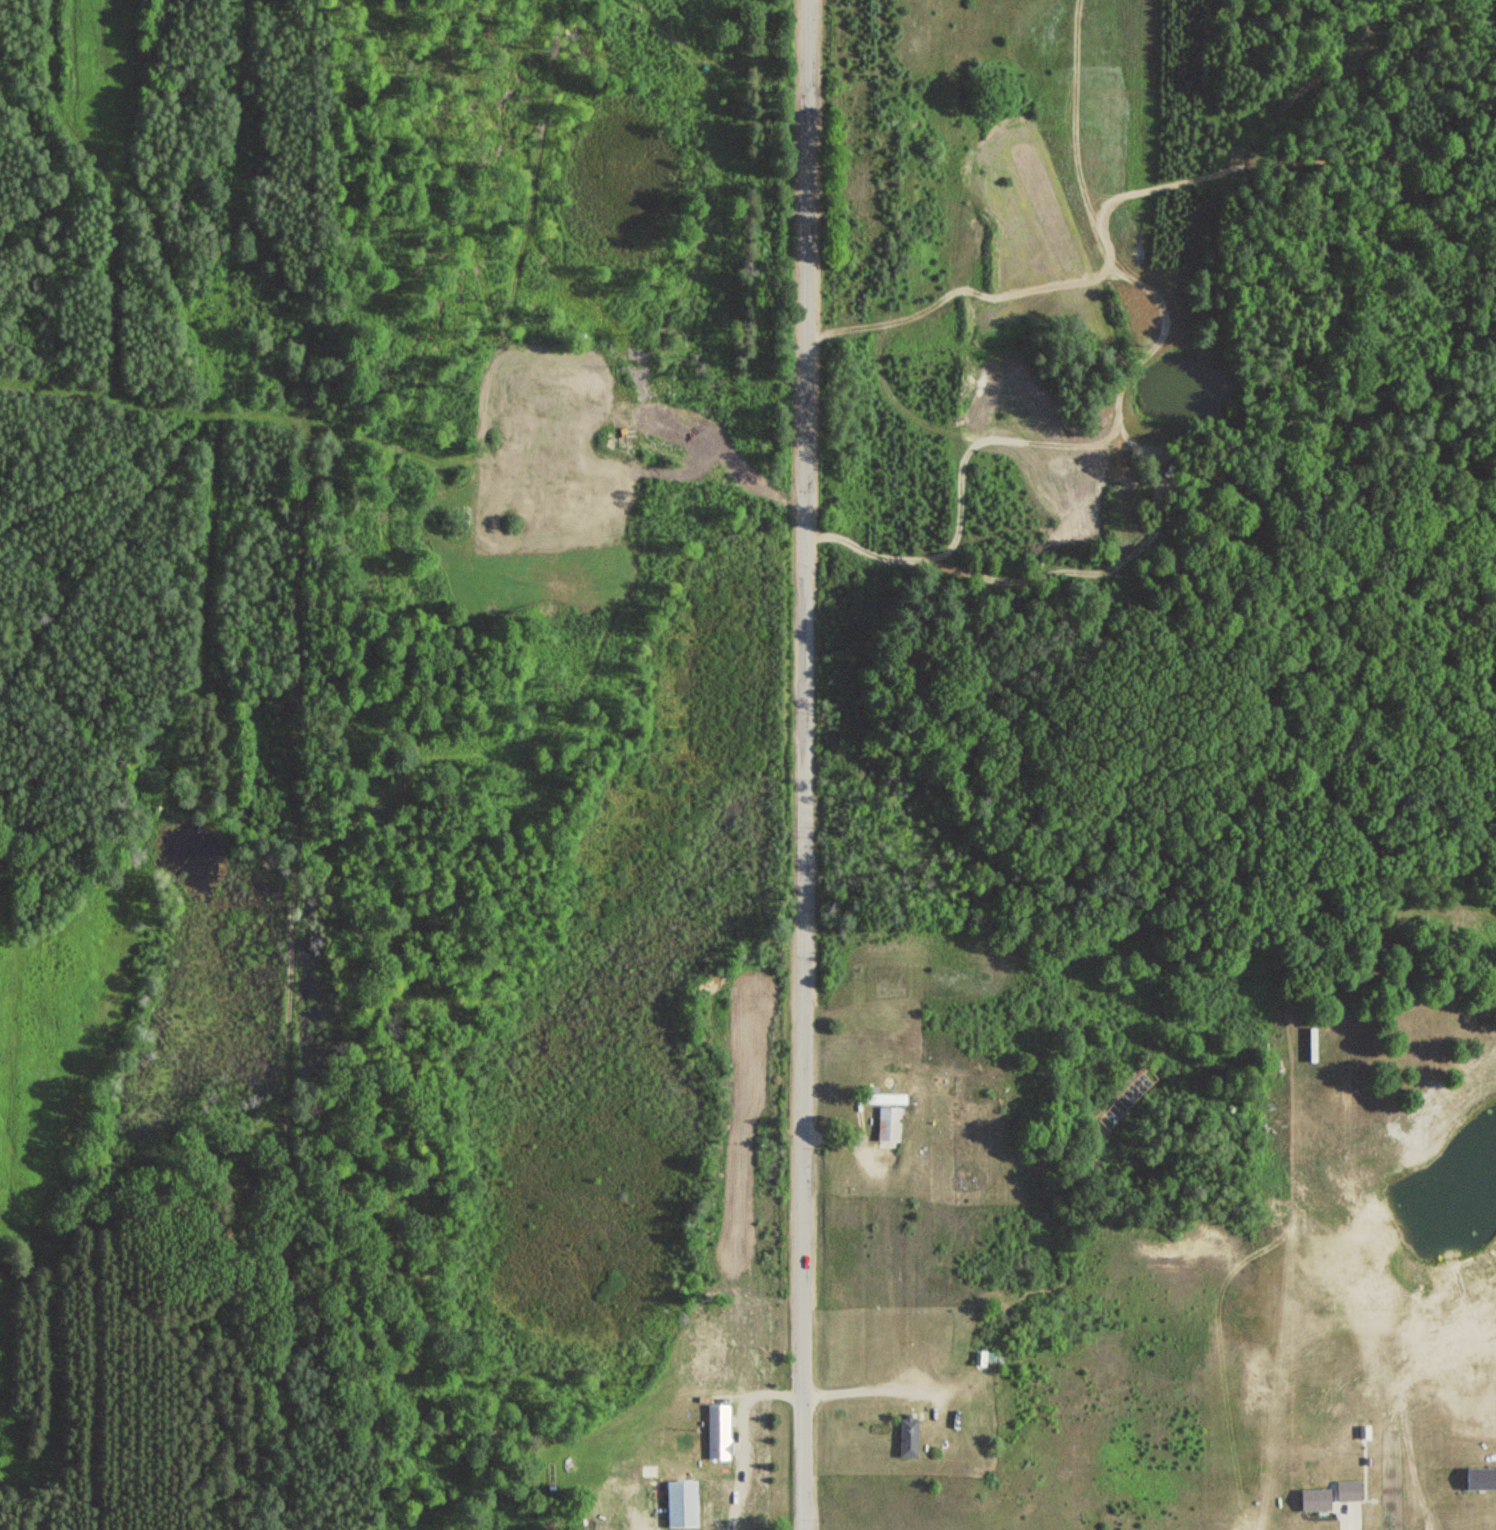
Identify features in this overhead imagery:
road: (803, 765)
building: (1270, 1063)
building: (879, 1097)
building: (887, 1124)
building: (716, 1429)
building: (906, 1437)
building: (1479, 1479)
building: (1344, 1491)
building: (1312, 1500)
building: (674, 1504)

